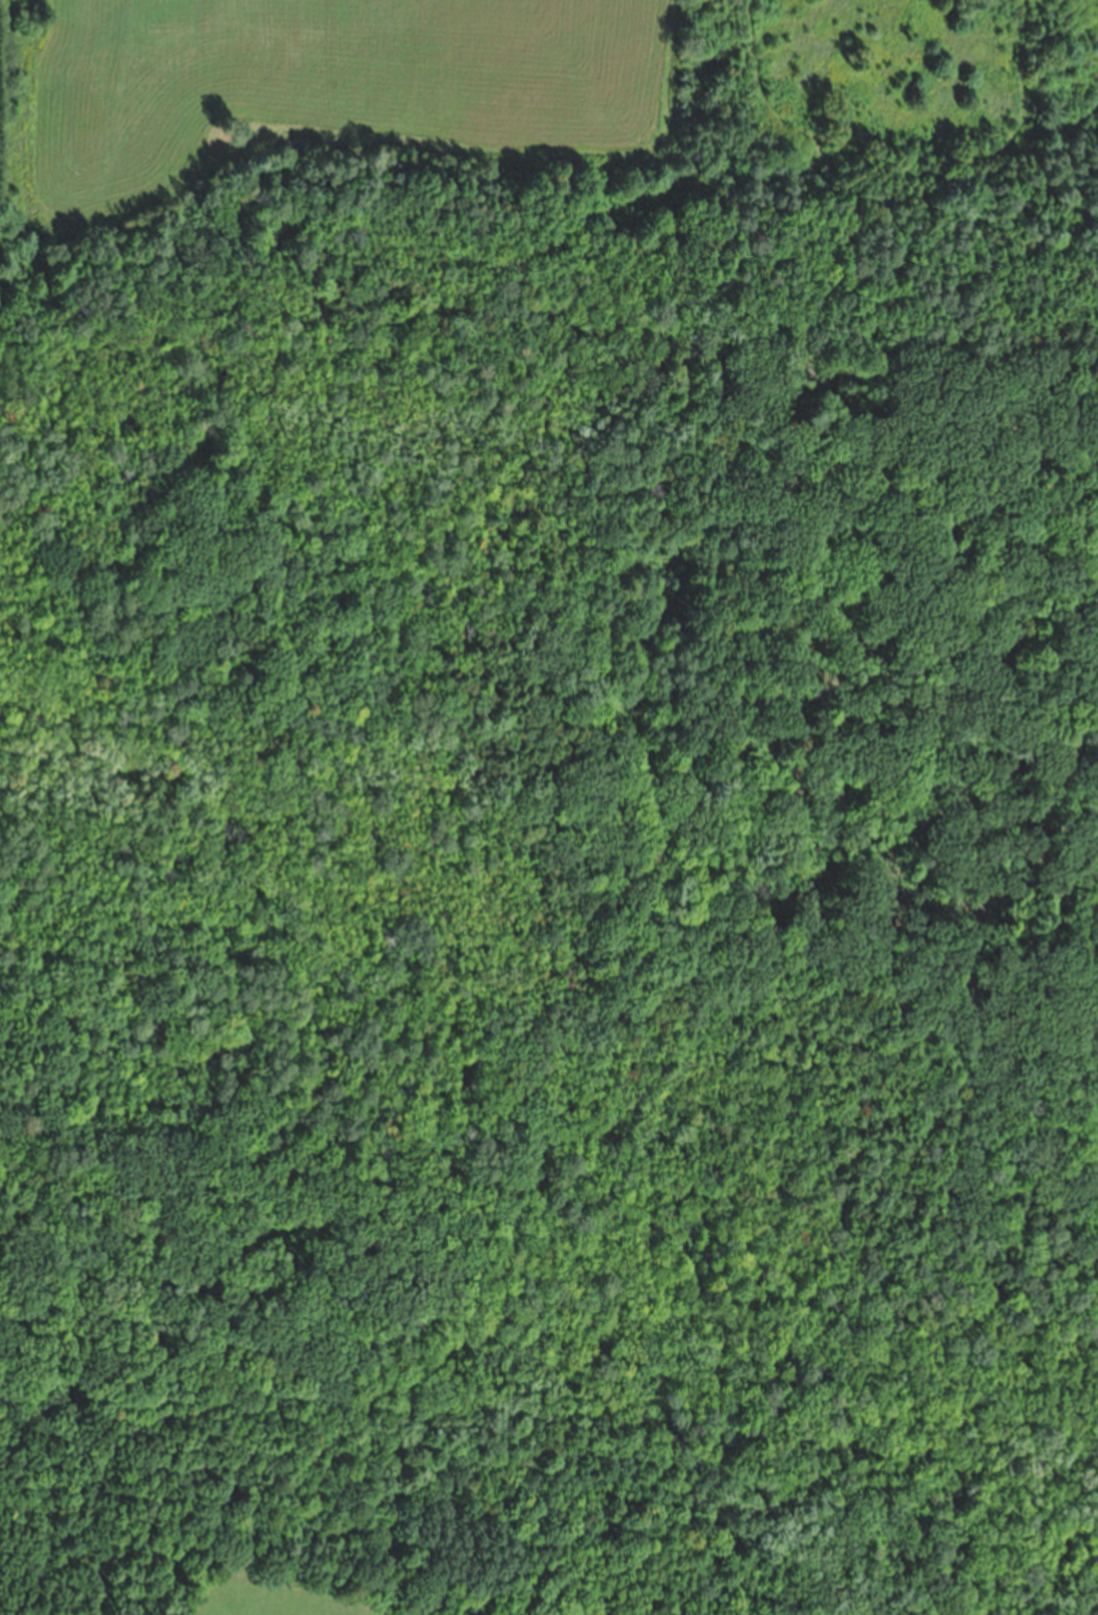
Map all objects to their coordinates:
crop: (333, 84)

